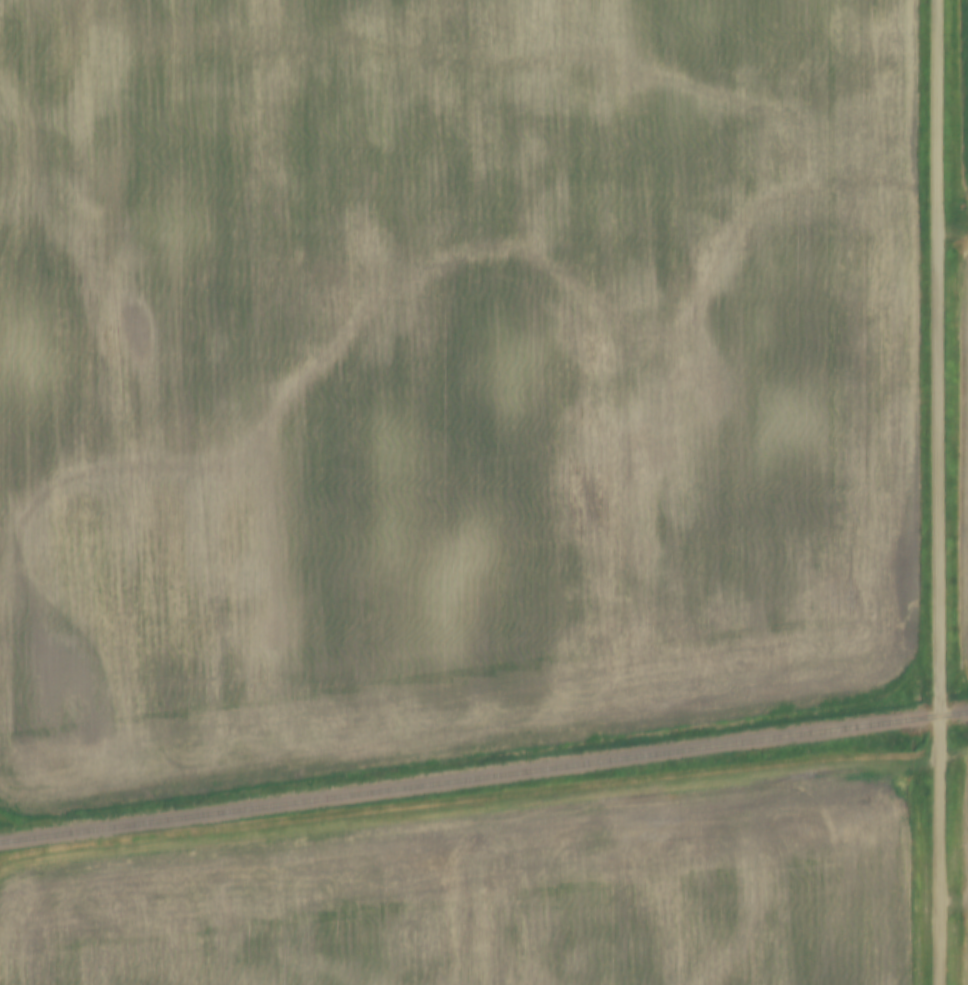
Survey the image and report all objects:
road: (937, 492)
road: (952, 755)
railway: (484, 777)

